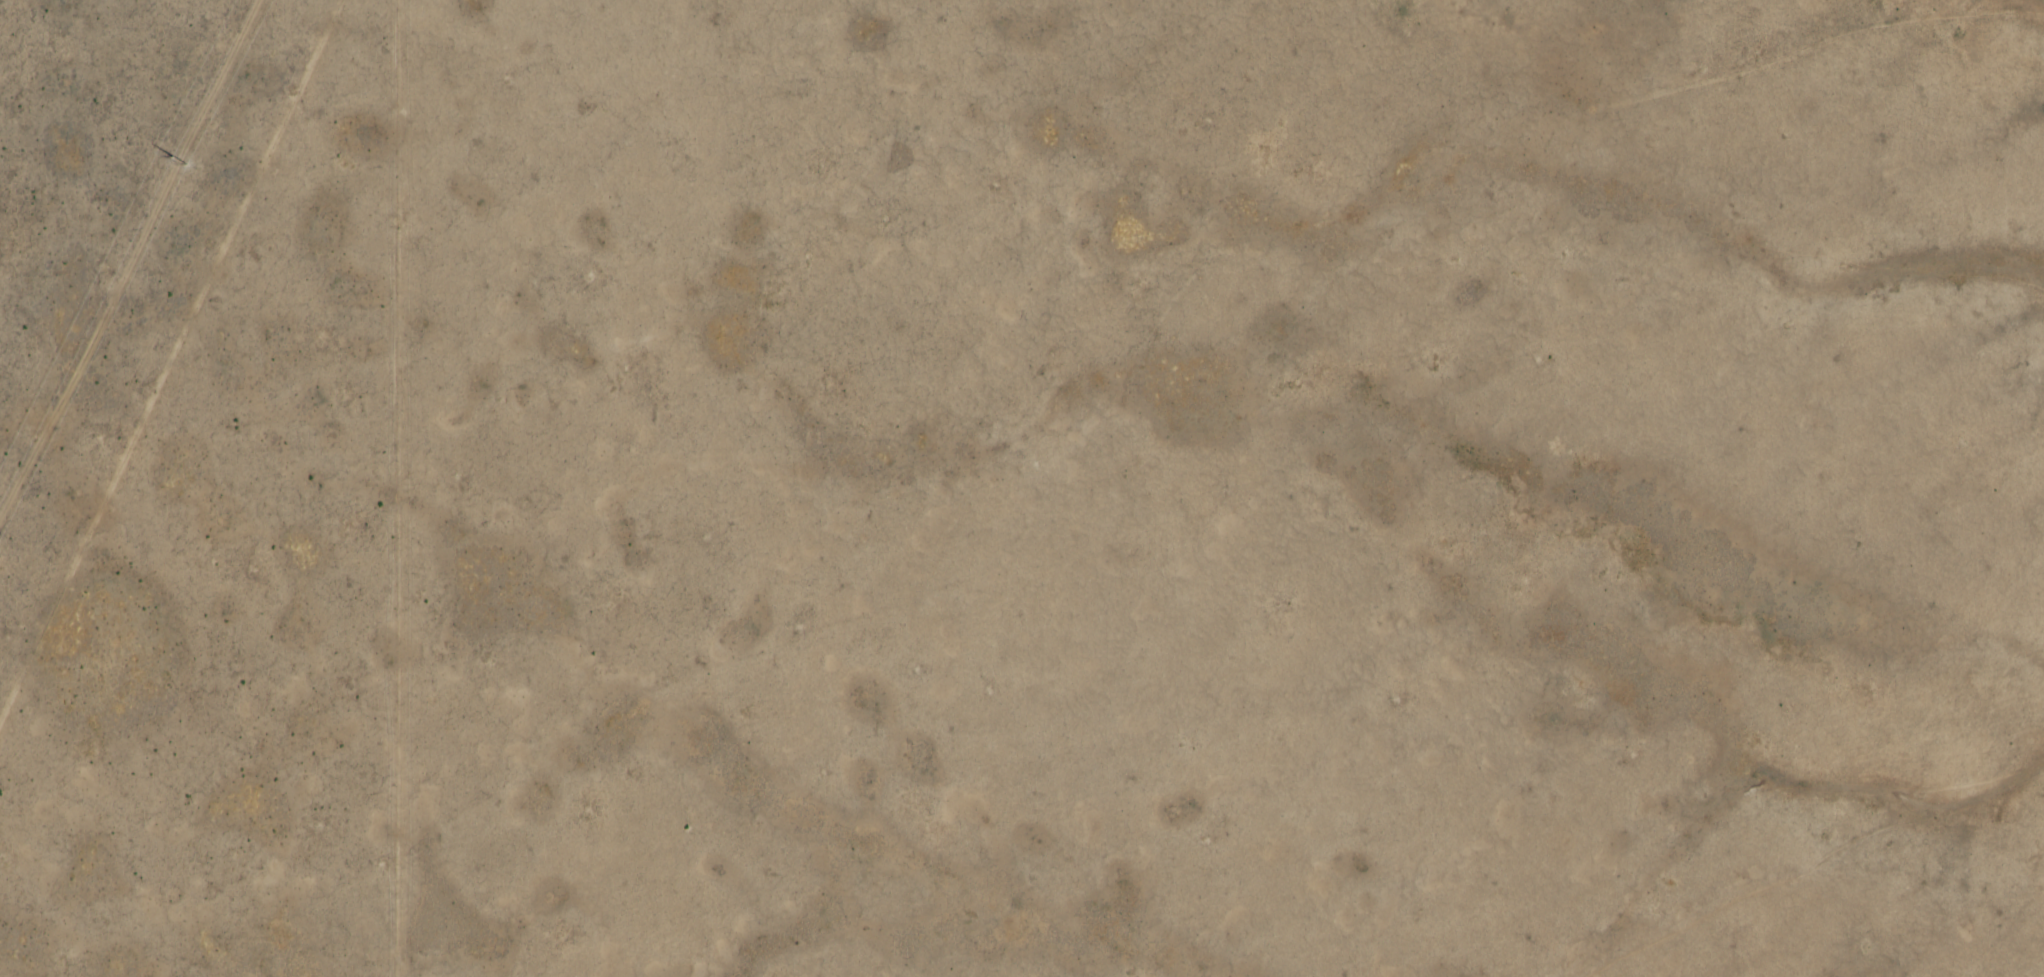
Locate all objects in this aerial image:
power tower: (180, 158)

